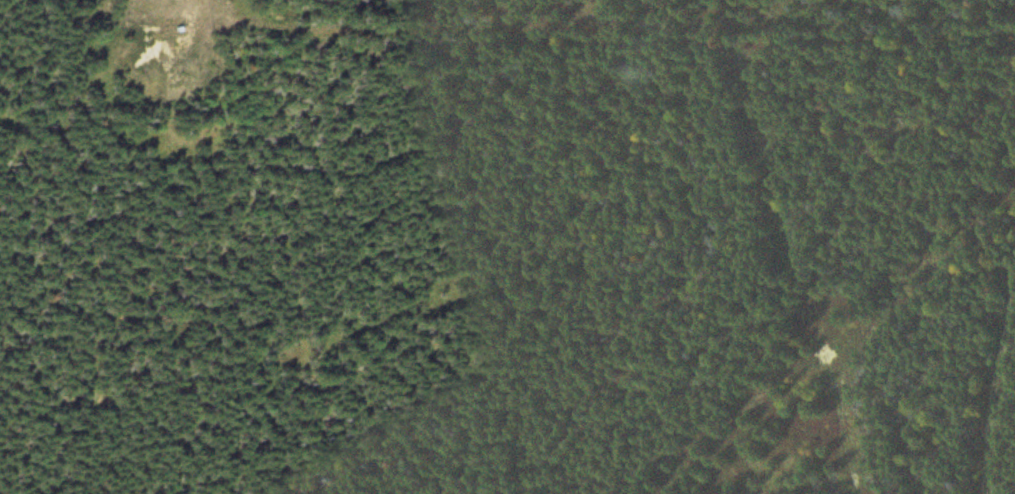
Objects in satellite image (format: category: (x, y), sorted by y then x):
road: (1001, 363)

